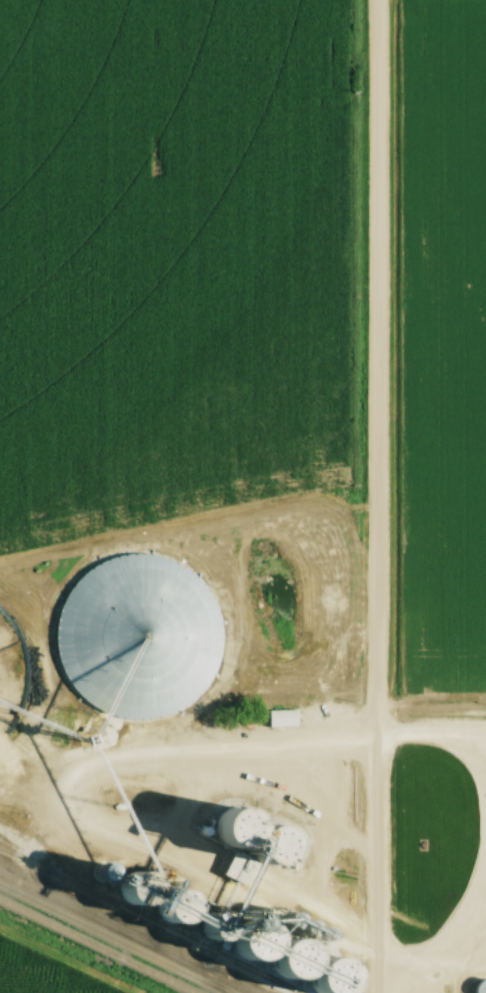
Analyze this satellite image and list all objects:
road: (371, 496)
building: (109, 629)
railway: (148, 921)
railway: (112, 938)
railway: (96, 946)

